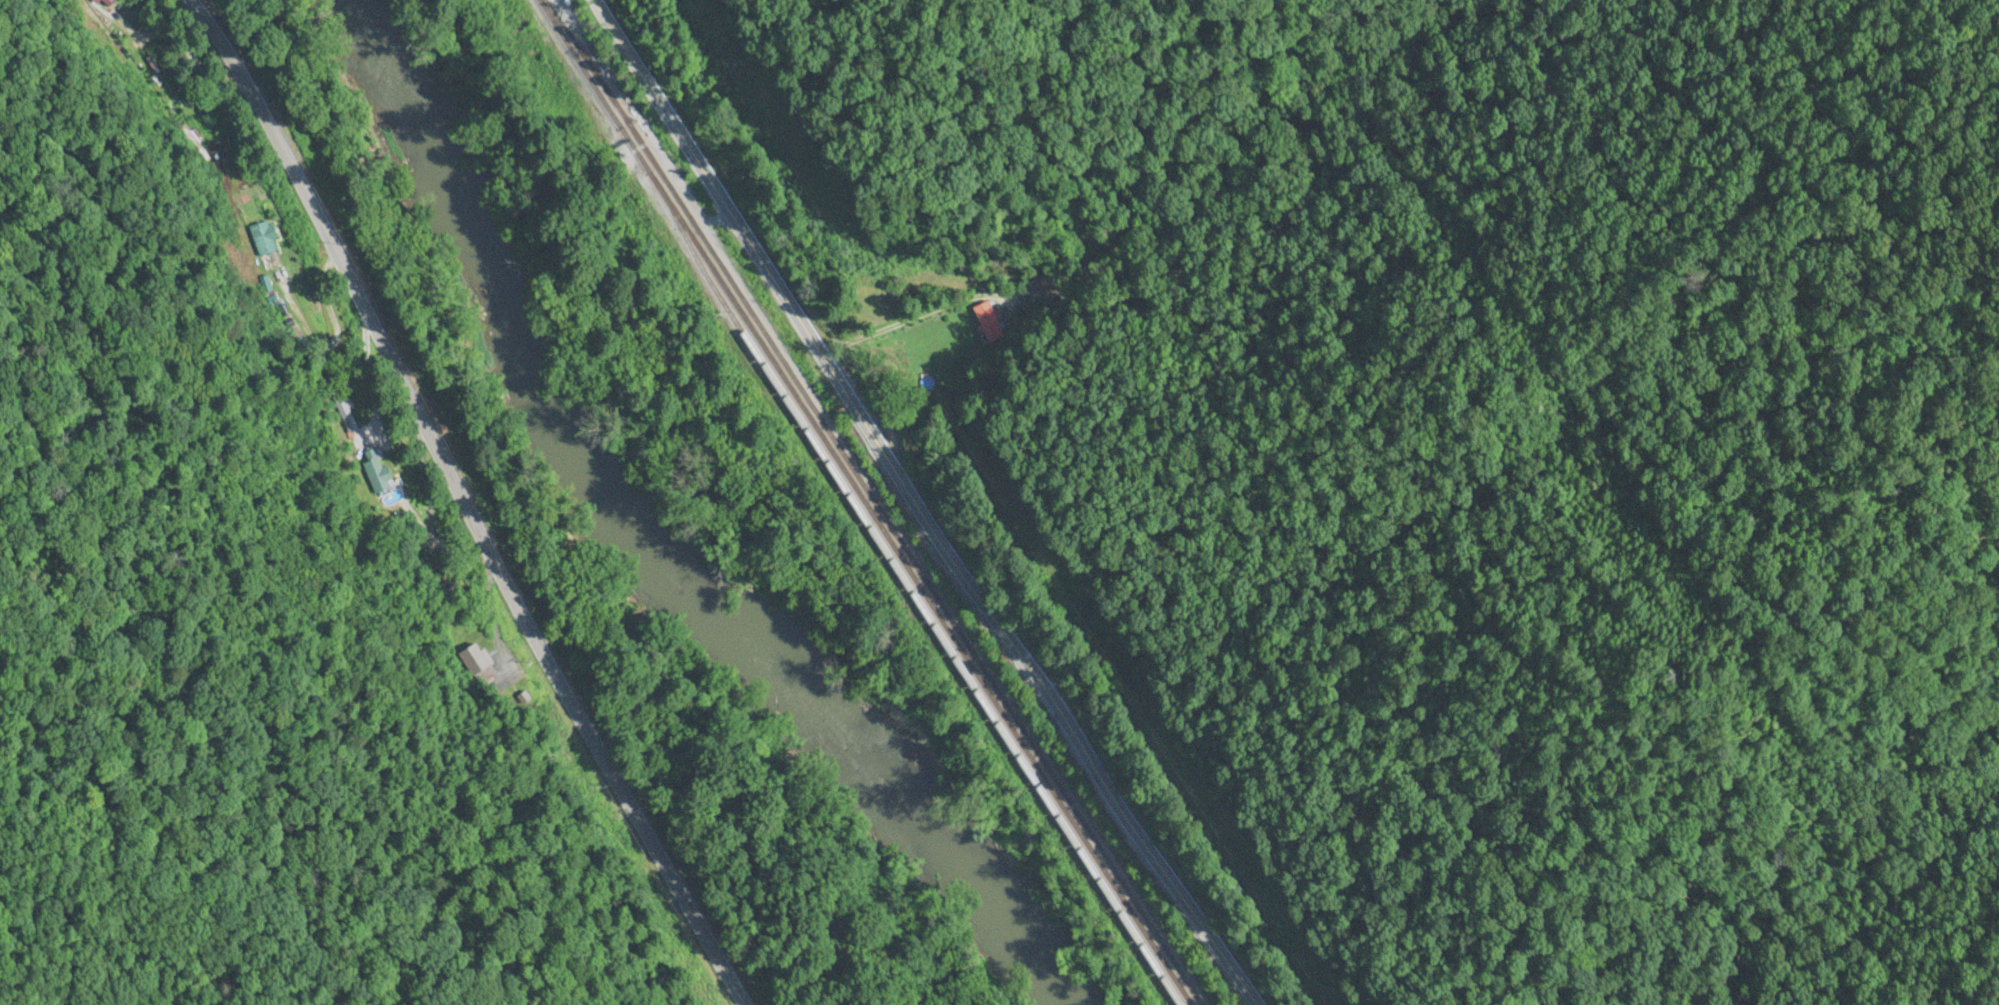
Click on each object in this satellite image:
building: (614, 114)
building: (266, 245)
building: (987, 322)
railway: (870, 503)
road: (458, 504)
road: (920, 505)
river: (621, 544)
building: (494, 681)

